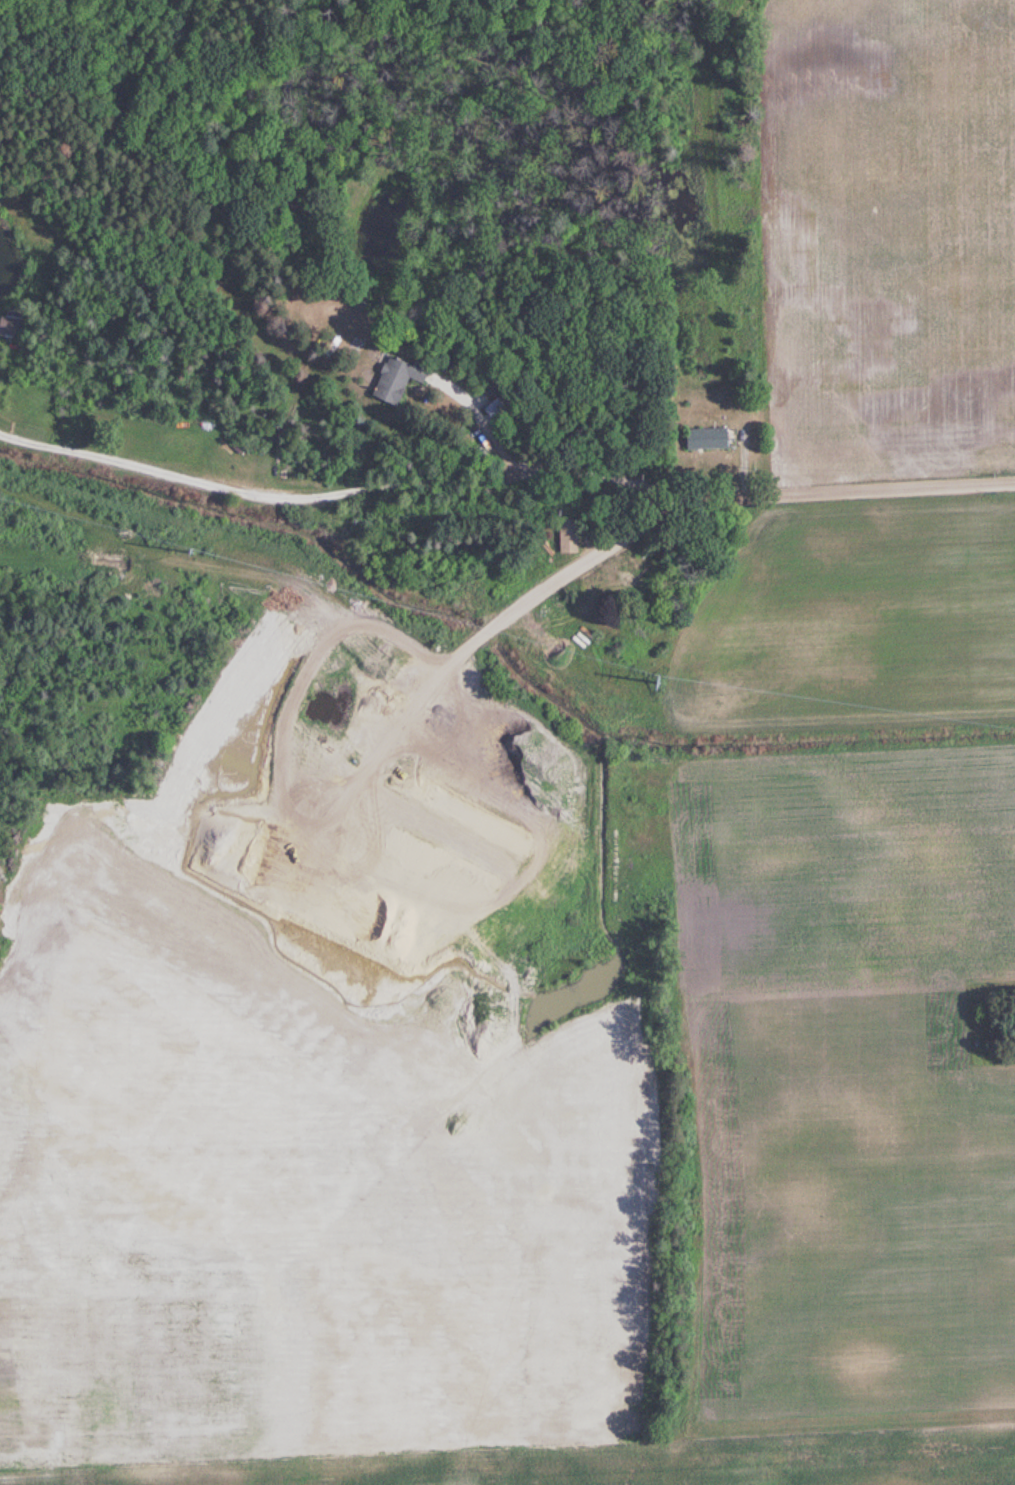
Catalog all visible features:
building: (9, 326)
building: (392, 379)
building: (703, 440)
road: (775, 494)
road: (267, 495)
building: (566, 540)
power tower: (191, 552)
power tower: (661, 682)

